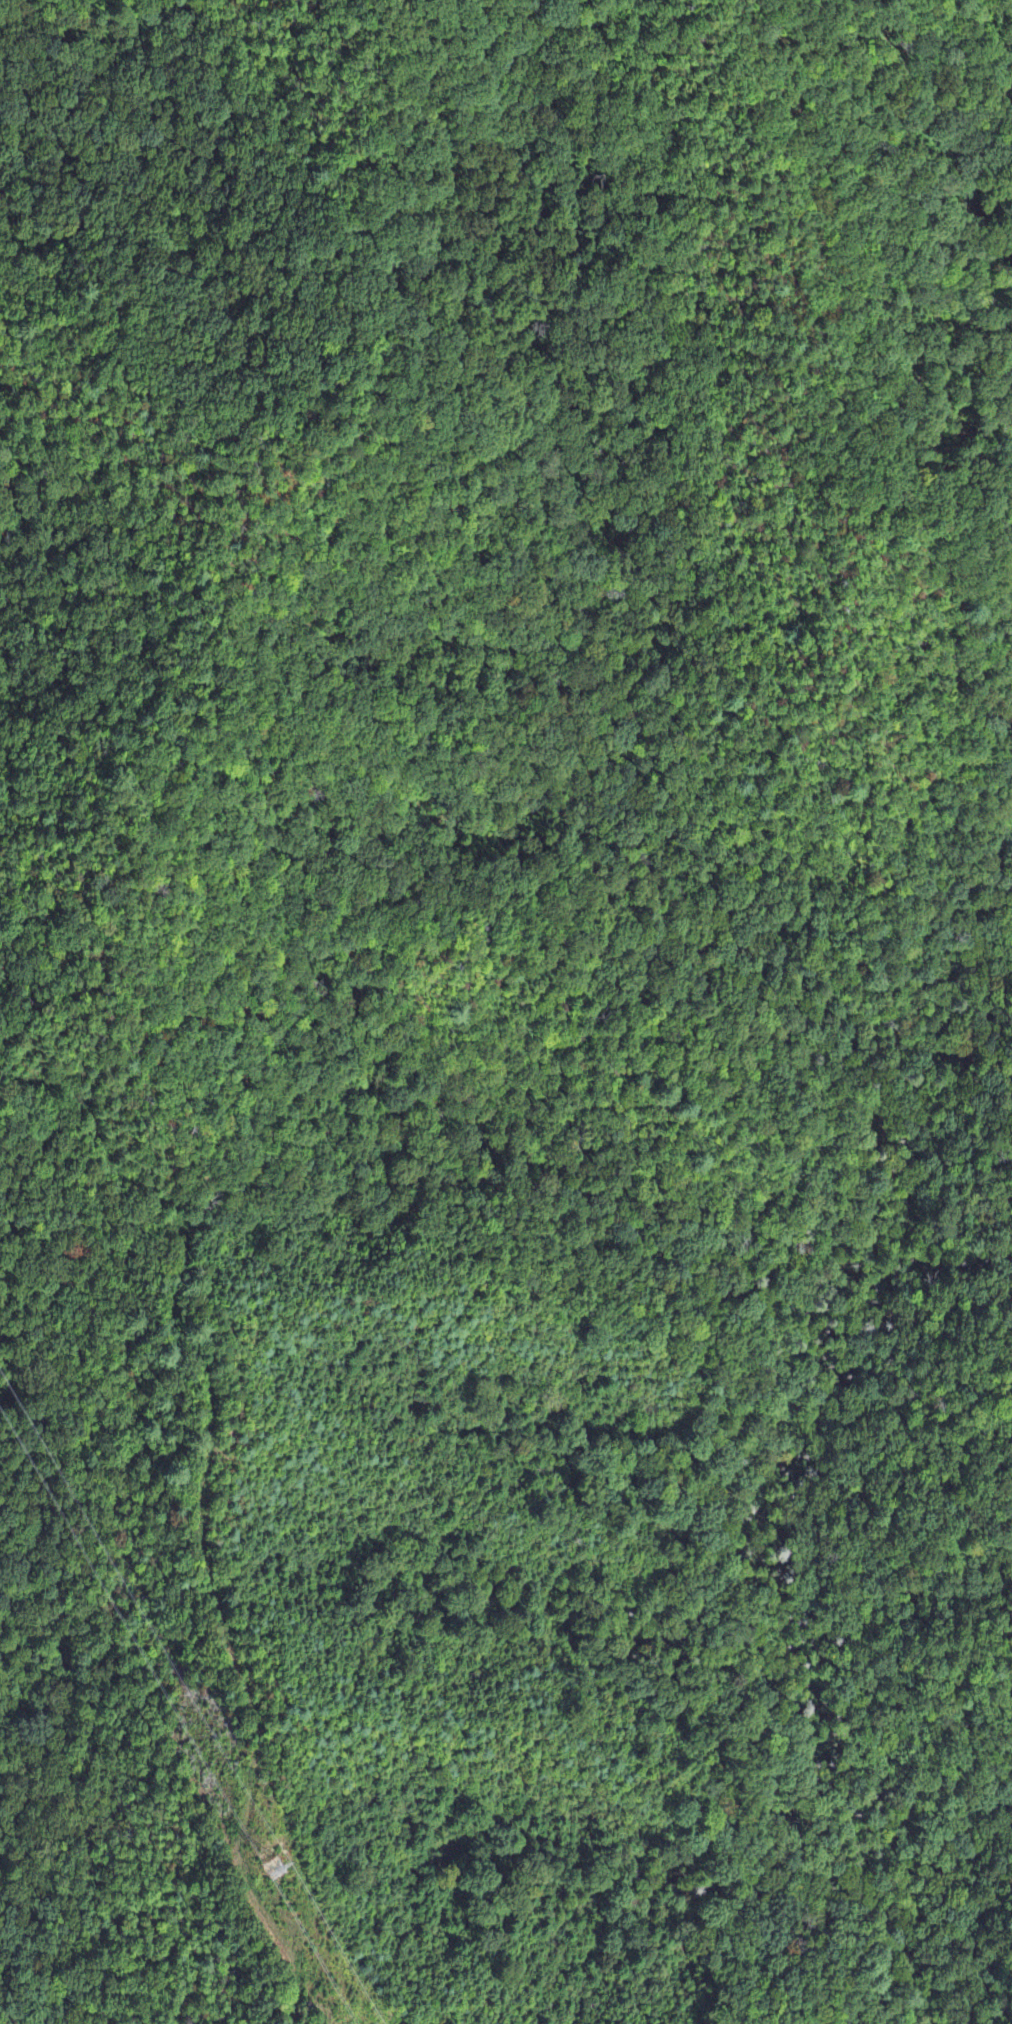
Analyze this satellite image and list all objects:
power tower: (285, 1865)

